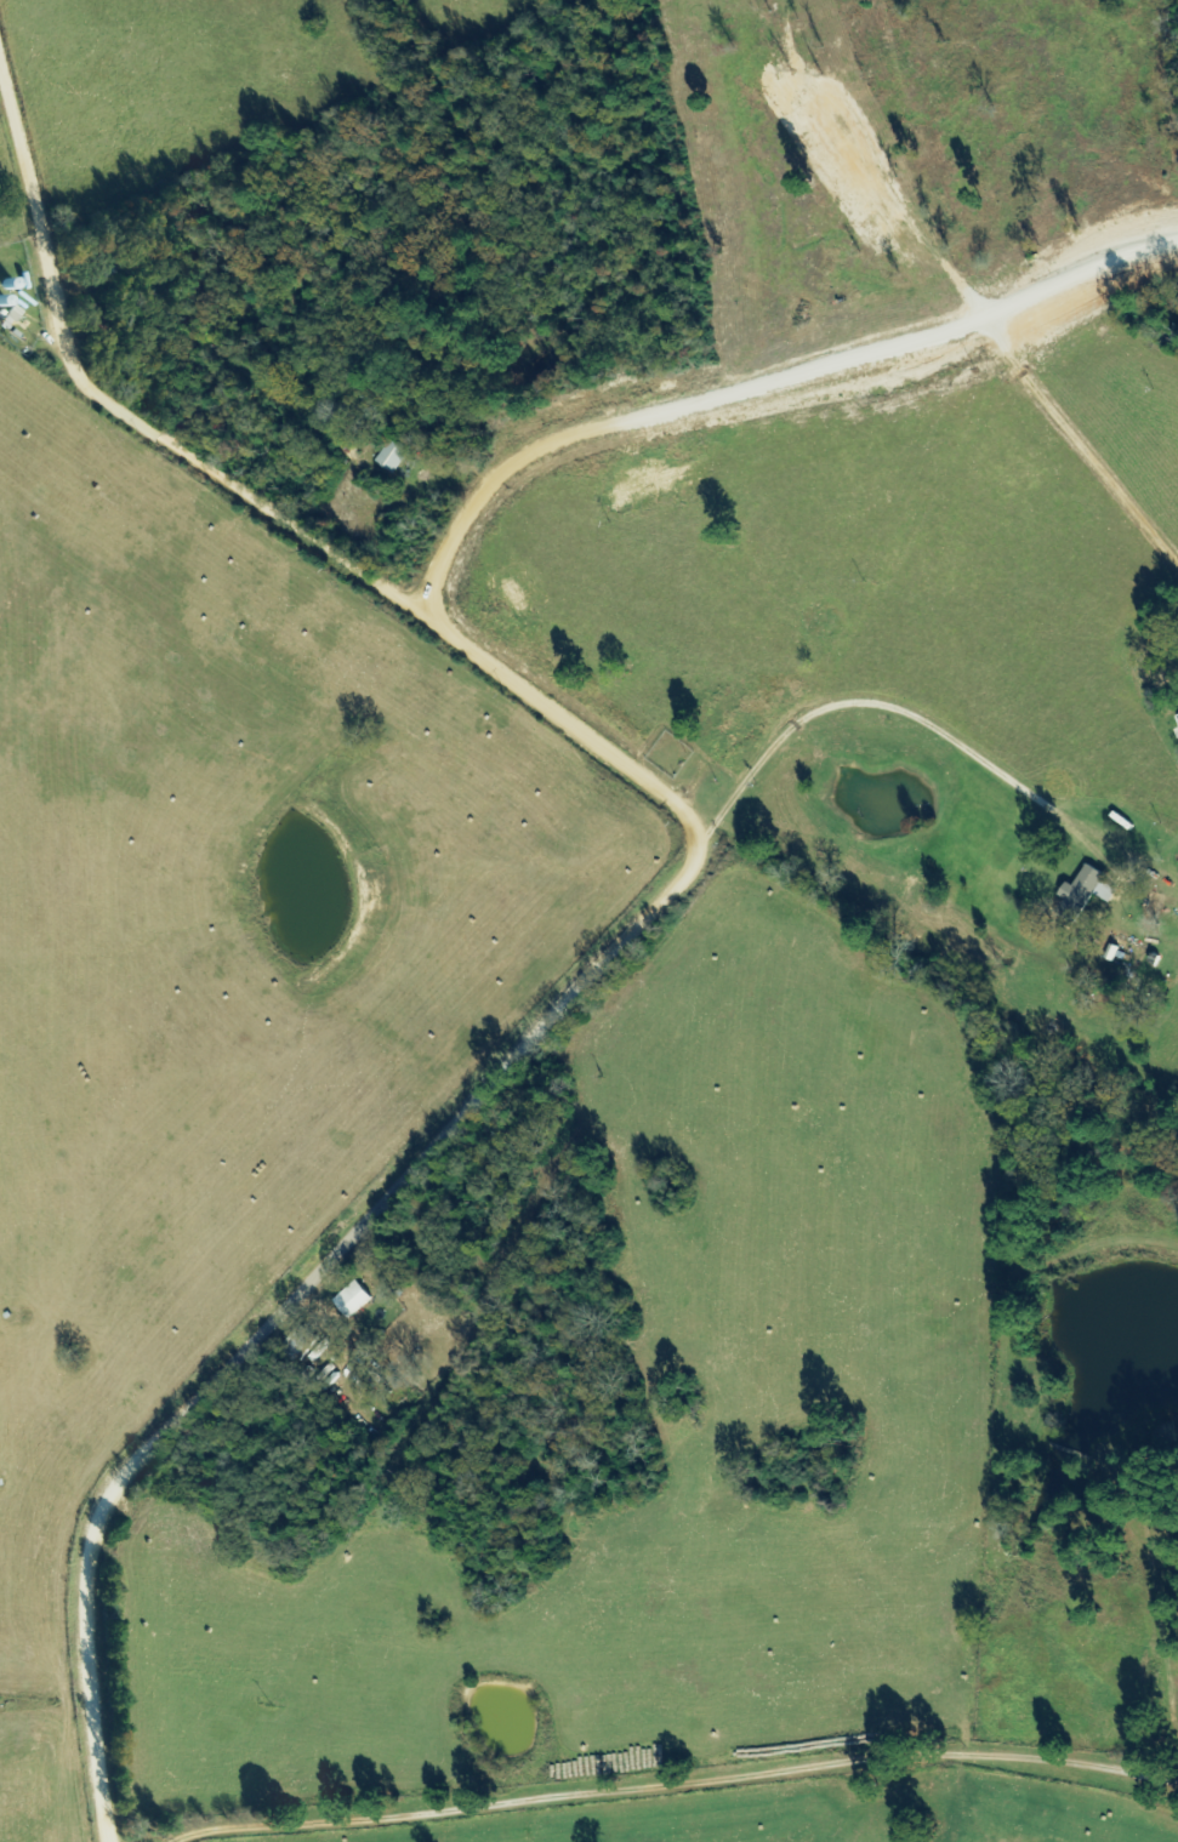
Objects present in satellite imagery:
building: (11, 316)
road: (793, 395)
road: (985, 584)
building: (1082, 893)
road: (938, 908)
road: (662, 912)
building: (352, 1300)
road: (685, 1778)

